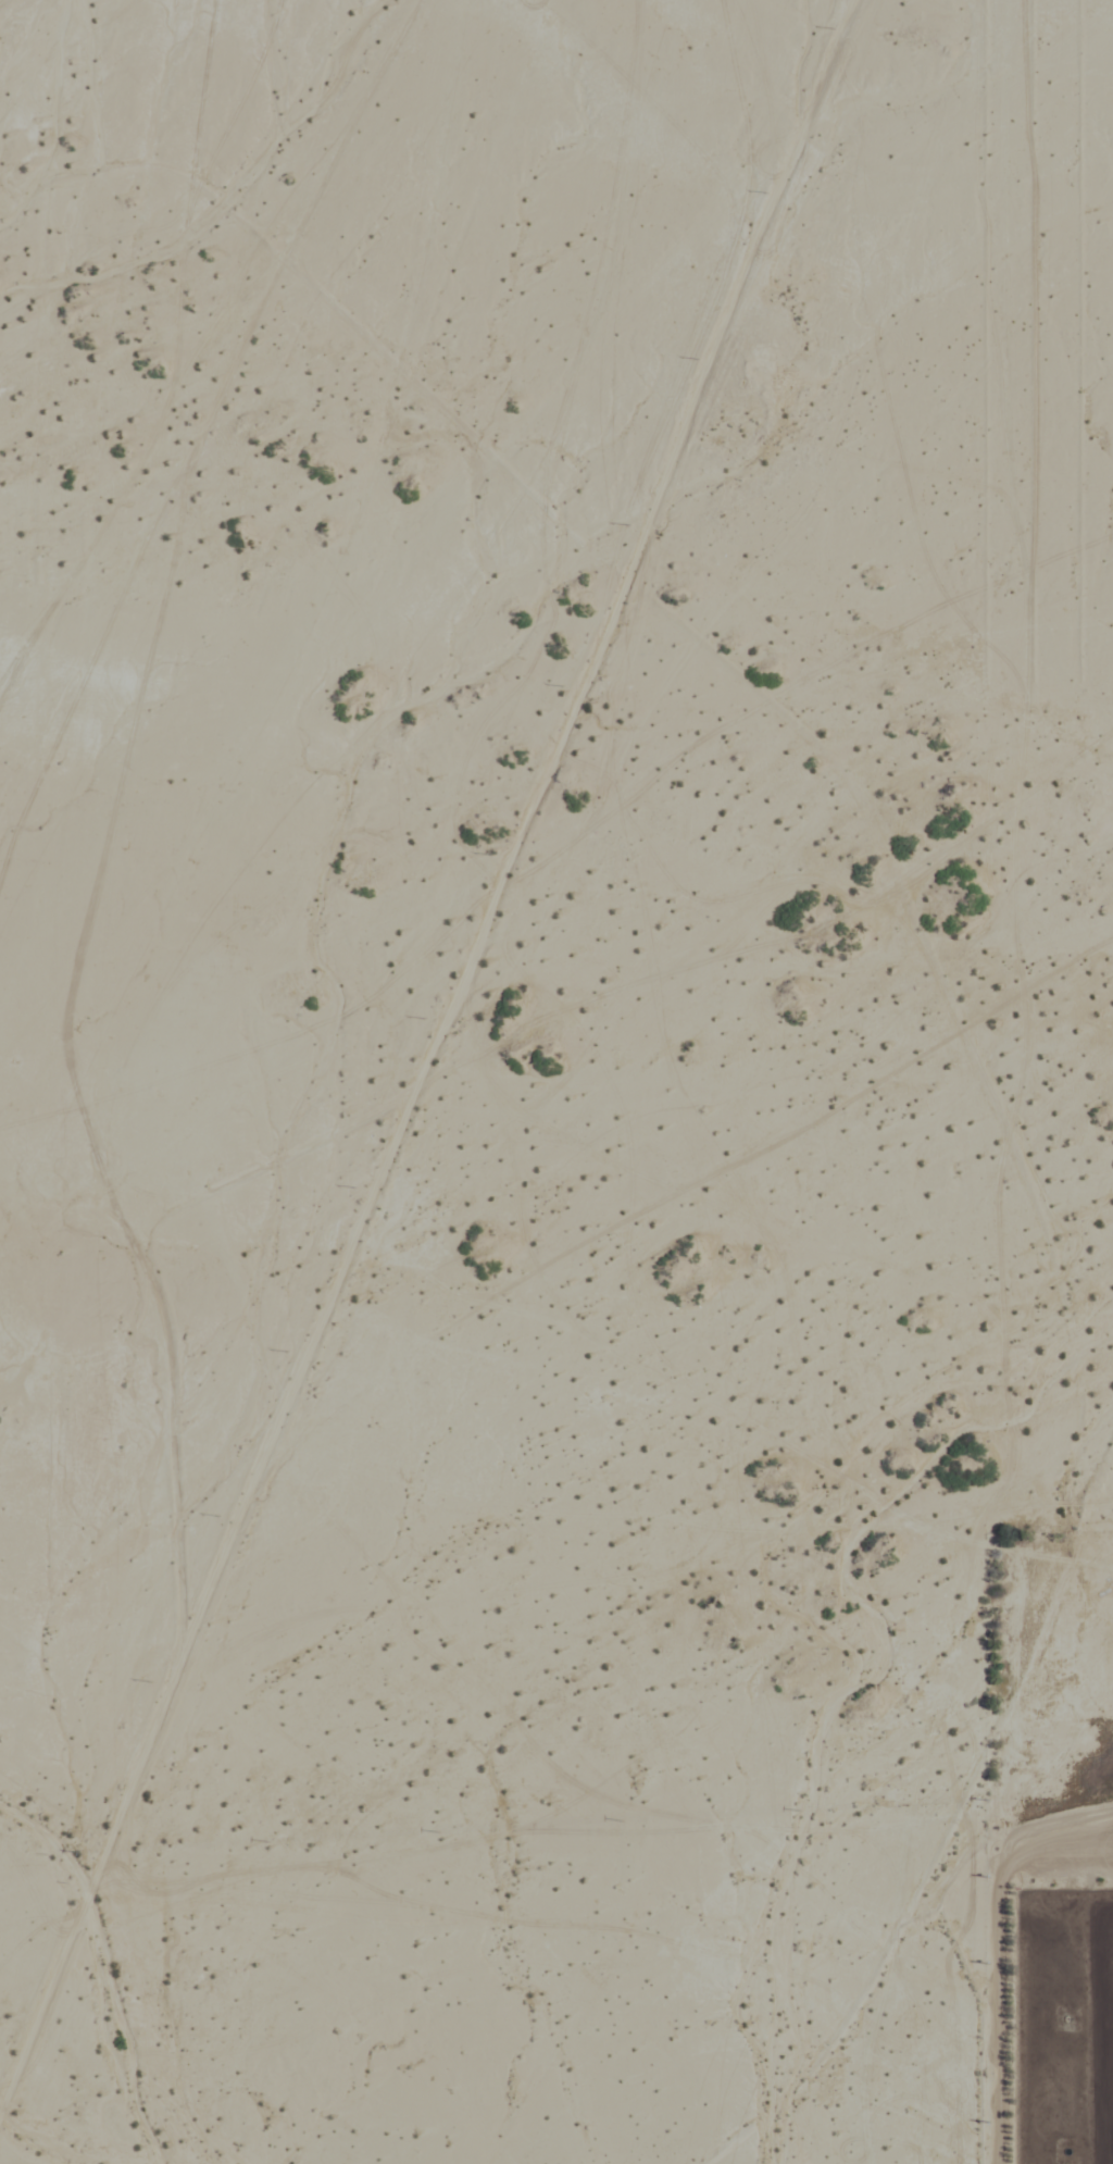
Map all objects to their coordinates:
crop: (1052, 1990)

